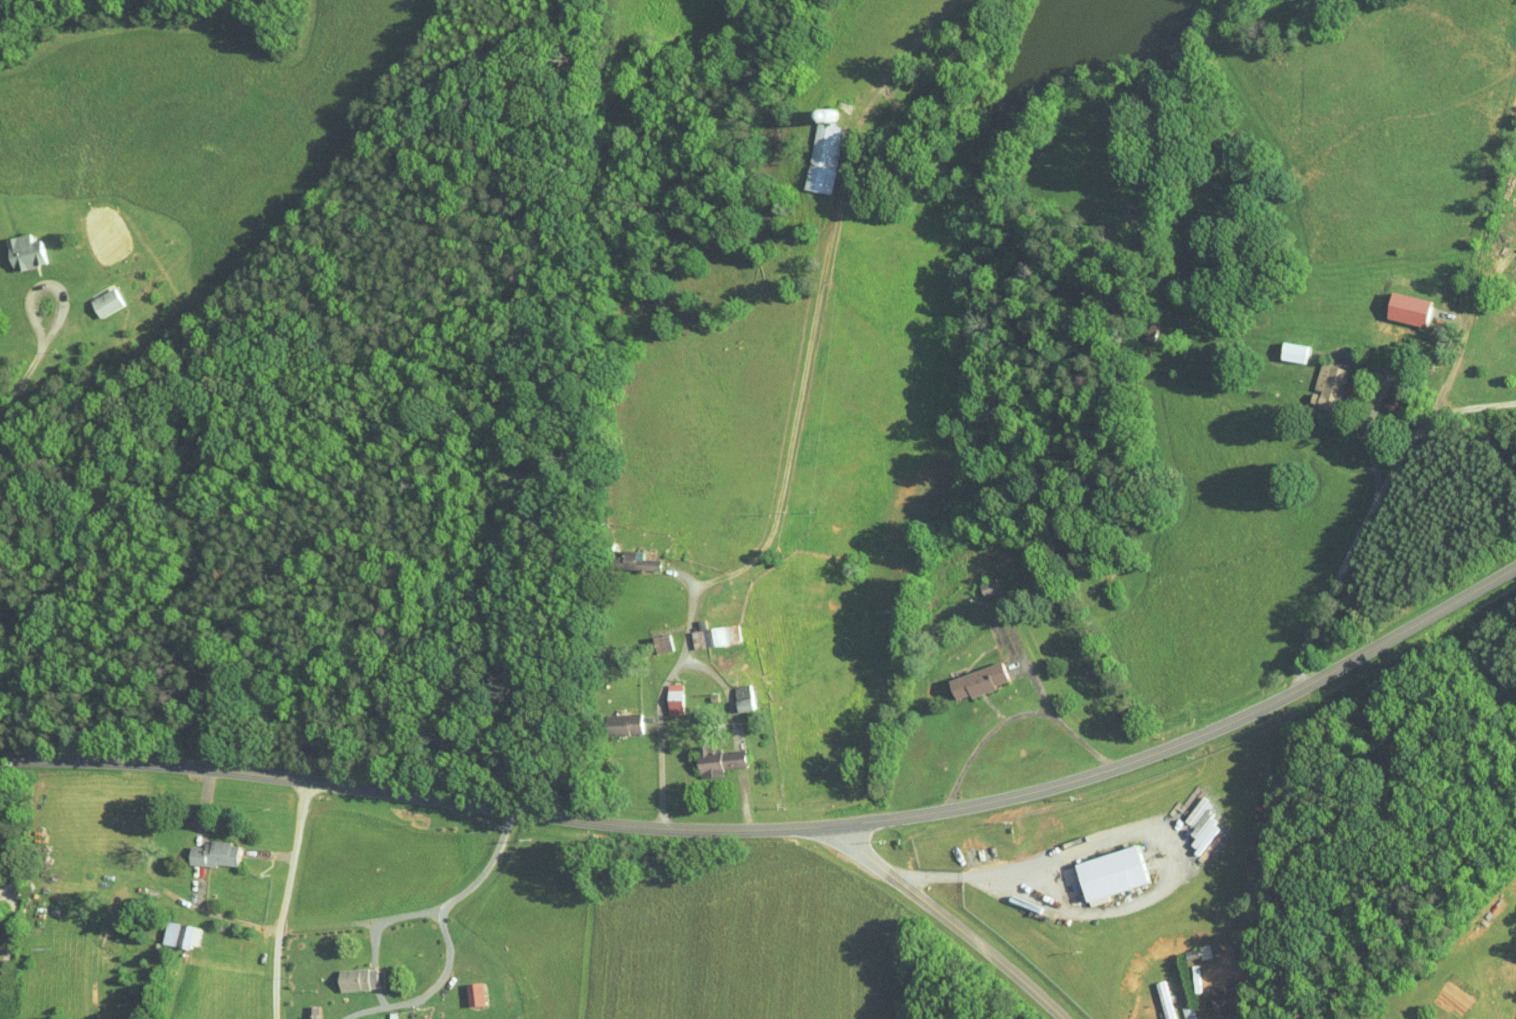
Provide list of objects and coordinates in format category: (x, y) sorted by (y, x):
building: (808, 151)
road: (46, 283)
building: (92, 295)
building: (1392, 303)
building: (1515, 323)
building: (1280, 346)
building: (1313, 381)
road: (22, 382)
road: (1470, 407)
road: (1433, 408)
road: (1371, 412)
road: (781, 509)
building: (623, 554)
building: (975, 580)
building: (707, 629)
building: (648, 636)
building: (963, 673)
building: (661, 692)
road: (727, 692)
building: (610, 717)
road: (1059, 719)
road: (983, 739)
building: (705, 755)
road: (783, 827)
road: (1142, 830)
building: (200, 847)
road: (12, 856)
building: (1098, 865)
road: (6, 887)
road: (285, 898)
road: (422, 910)
road: (944, 917)
road: (238, 918)
road: (11, 925)
building: (167, 928)
building: (342, 972)
building: (460, 986)
road: (428, 989)
building: (1208, 993)
building: (1152, 995)
building: (1176, 1006)

